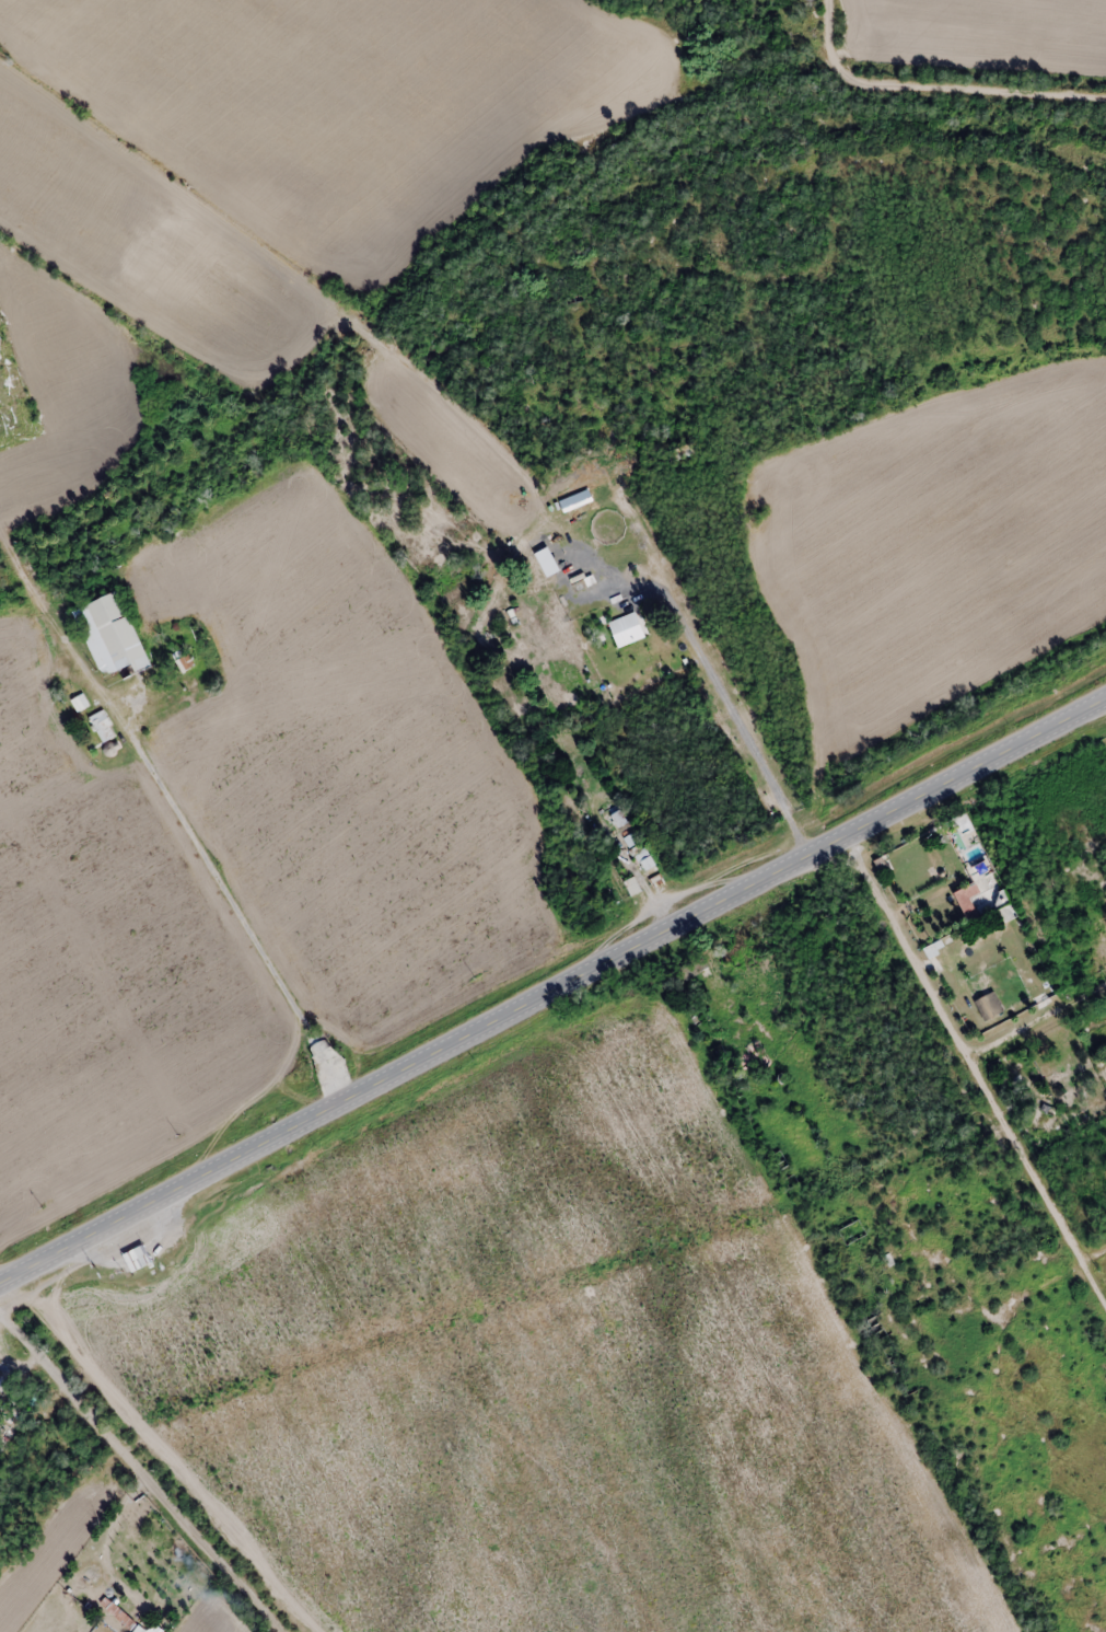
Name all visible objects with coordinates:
building: (108, 638)
road: (712, 671)
road: (176, 818)
road: (554, 988)
road: (977, 1063)
park: (12, 1412)

